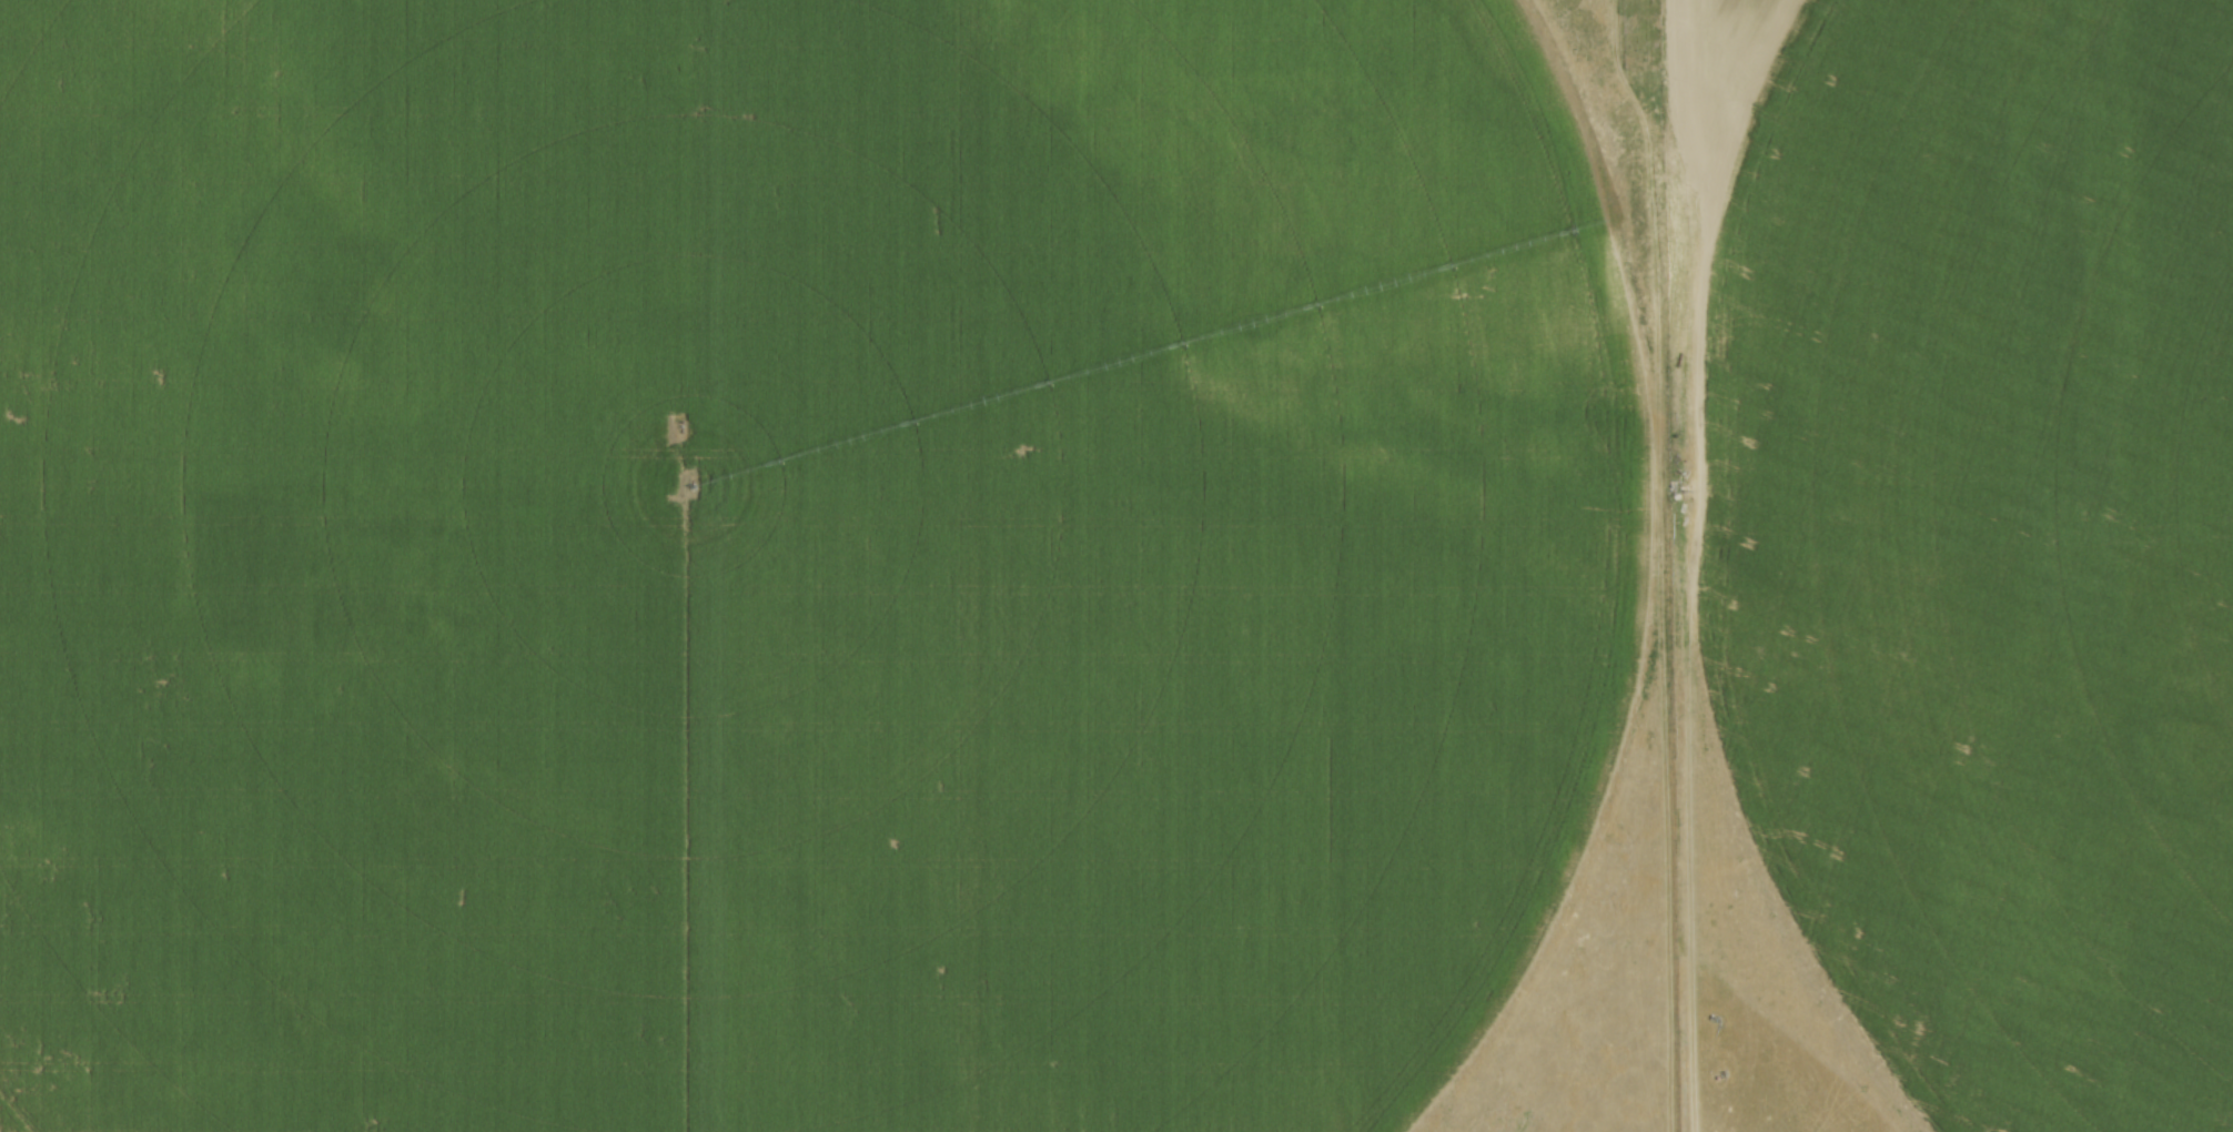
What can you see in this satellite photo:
crop: (1979, 536)
crop: (796, 559)

